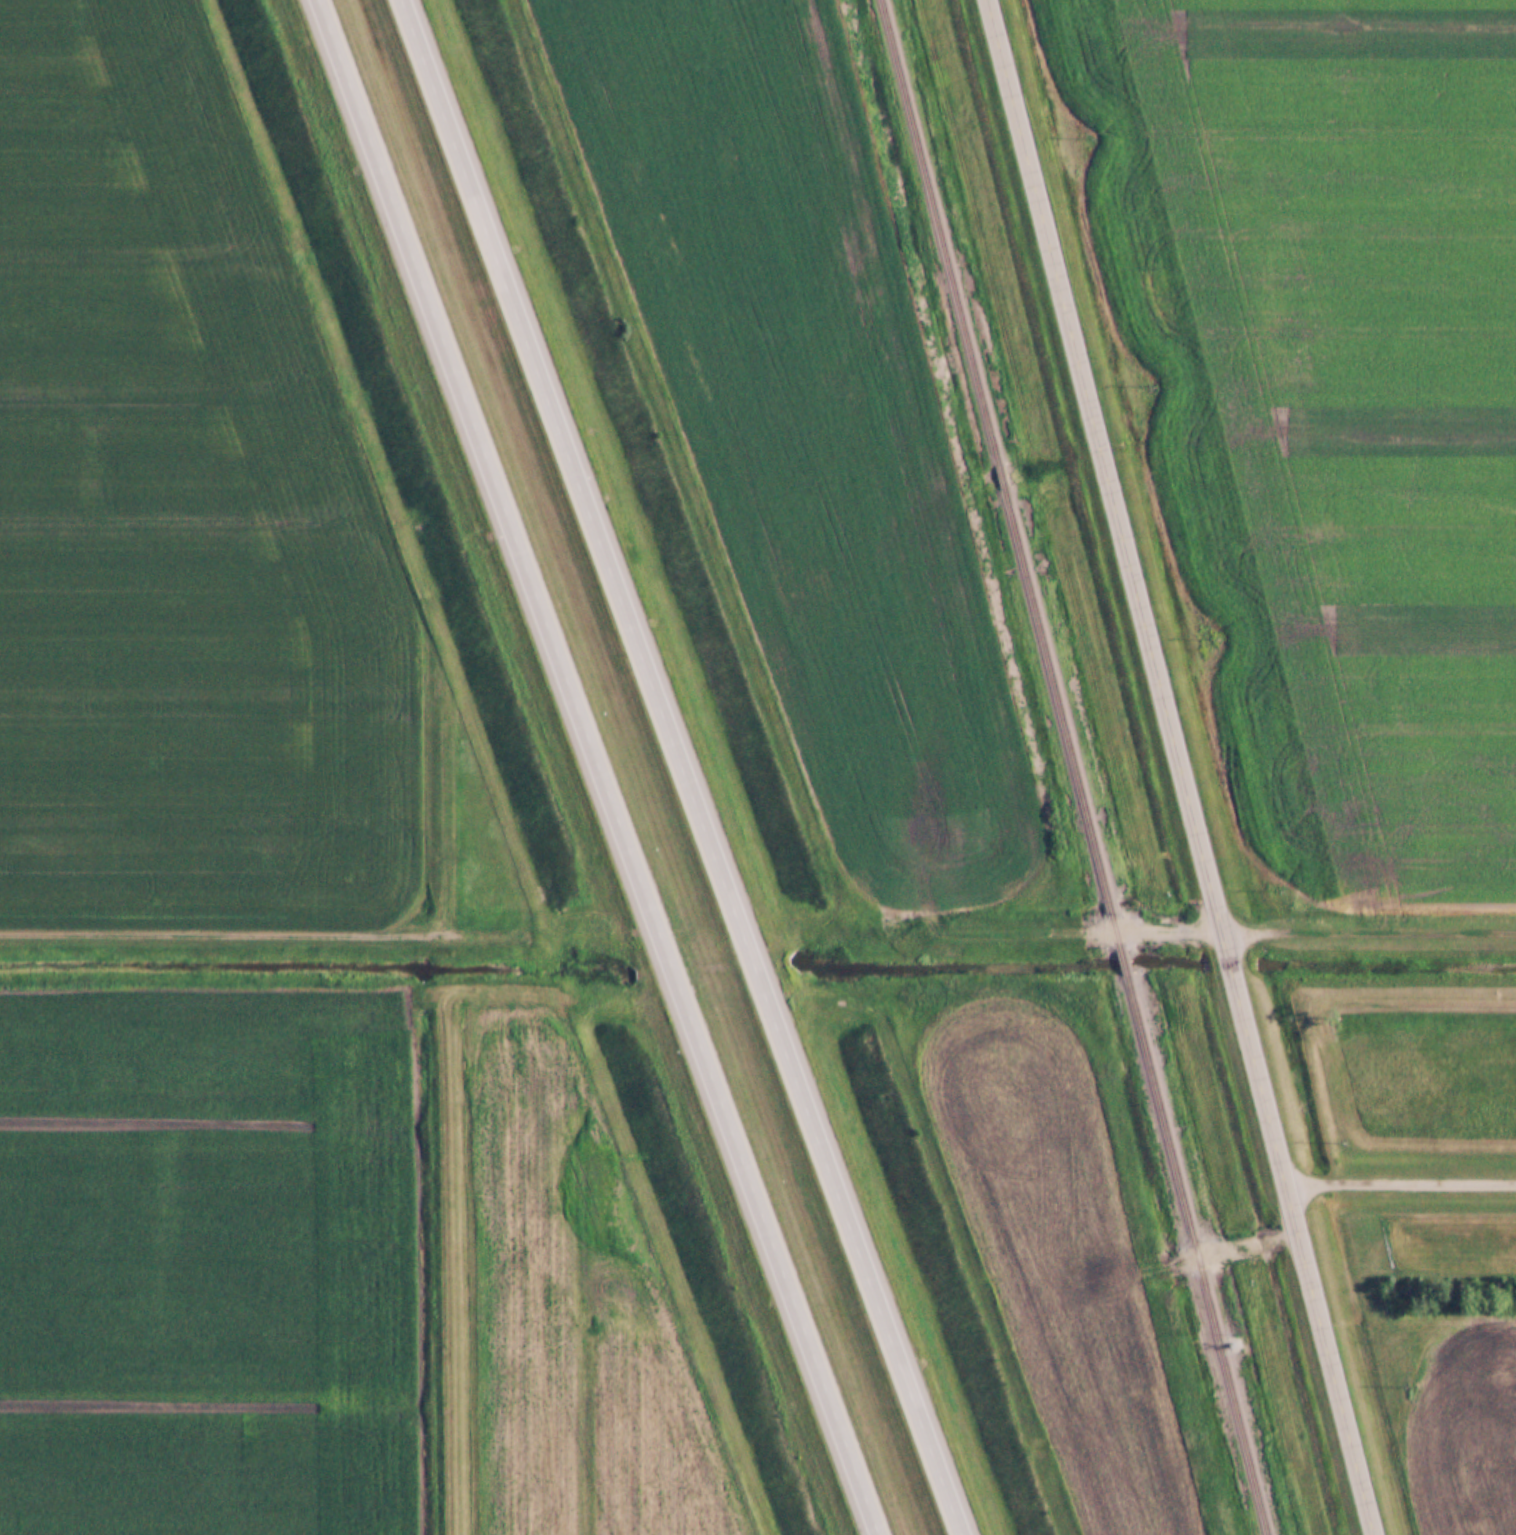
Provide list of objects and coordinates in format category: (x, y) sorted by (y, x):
crop: (1286, 95)
railway: (942, 230)
crop: (798, 421)
railway: (1000, 476)
crop: (1341, 518)
railway: (1061, 719)
road: (598, 766)
road: (682, 766)
road: (1180, 767)
road: (1368, 923)
road: (255, 929)
road: (1068, 932)
railway: (1122, 962)
road: (1398, 1181)
railway: (1196, 1255)
road: (452, 1259)
road: (1181, 1259)
crop: (205, 1273)
crop: (575, 1320)
crop: (1467, 1434)

